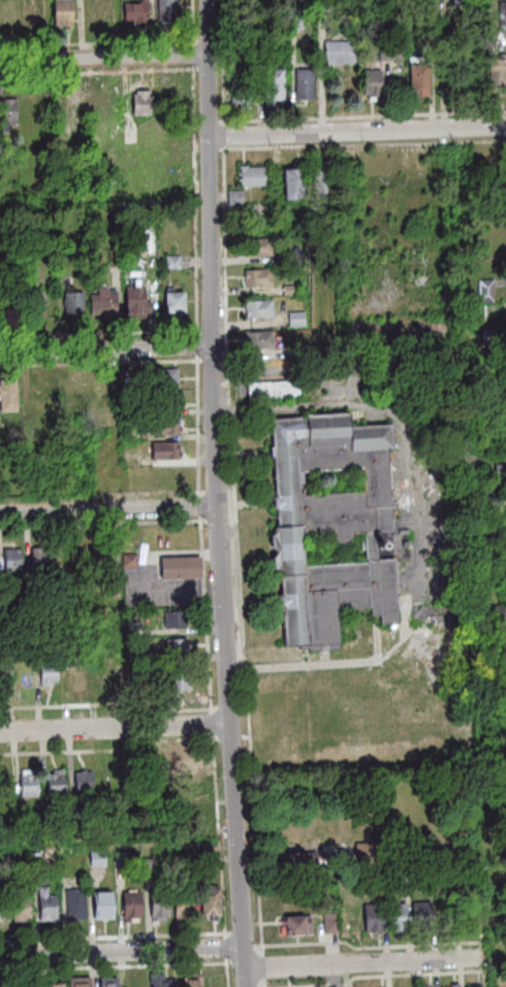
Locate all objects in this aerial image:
building: (459, 2)
building: (321, 4)
building: (165, 9)
building: (133, 11)
building: (59, 12)
building: (2, 13)
building: (102, 13)
building: (501, 15)
building: (29, 17)
building: (292, 21)
road: (191, 23)
building: (424, 36)
road: (202, 41)
road: (98, 44)
building: (336, 51)
building: (383, 51)
road: (192, 56)
road: (102, 58)
road: (222, 63)
road: (441, 65)
road: (220, 70)
road: (206, 71)
building: (495, 72)
road: (97, 75)
building: (415, 78)
building: (367, 82)
building: (301, 83)
building: (270, 85)
building: (237, 91)
building: (139, 103)
building: (69, 107)
building: (6, 113)
road: (361, 117)
road: (206, 123)
road: (195, 124)
road: (356, 132)
road: (223, 137)
road: (362, 146)
road: (213, 151)
building: (248, 176)
building: (316, 178)
building: (437, 179)
building: (287, 184)
building: (480, 184)
building: (234, 199)
building: (307, 202)
building: (292, 206)
building: (252, 247)
building: (113, 257)
building: (170, 261)
building: (252, 278)
building: (454, 285)
building: (284, 290)
building: (480, 291)
building: (133, 301)
building: (171, 301)
building: (100, 303)
building: (71, 304)
building: (32, 306)
building: (252, 309)
building: (472, 311)
building: (505, 316)
building: (290, 319)
road: (104, 334)
building: (483, 337)
building: (254, 340)
road: (105, 349)
building: (292, 350)
road: (104, 364)
building: (160, 377)
building: (275, 390)
building: (6, 395)
building: (41, 396)
building: (162, 399)
building: (101, 405)
building: (127, 406)
building: (161, 425)
building: (161, 450)
building: (495, 472)
road: (214, 493)
building: (486, 504)
road: (107, 511)
road: (99, 523)
road: (198, 526)
building: (332, 526)
building: (488, 540)
building: (38, 557)
building: (97, 558)
building: (10, 559)
building: (127, 560)
building: (177, 567)
road: (237, 567)
building: (4, 593)
building: (488, 612)
building: (172, 618)
building: (131, 628)
building: (36, 635)
building: (174, 647)
building: (133, 658)
building: (104, 672)
building: (45, 673)
building: (136, 673)
building: (73, 674)
building: (176, 681)
road: (105, 703)
road: (113, 727)
road: (106, 750)
building: (176, 763)
building: (147, 769)
building: (108, 778)
building: (81, 782)
building: (4, 783)
building: (54, 783)
building: (26, 785)
building: (184, 818)
building: (206, 855)
building: (361, 855)
building: (94, 858)
building: (32, 859)
building: (293, 863)
building: (145, 864)
building: (423, 881)
building: (397, 882)
building: (207, 901)
building: (156, 903)
building: (44, 904)
building: (73, 904)
building: (98, 904)
building: (129, 904)
building: (180, 905)
building: (18, 908)
building: (416, 917)
building: (392, 918)
building: (367, 919)
building: (325, 924)
building: (290, 926)
road: (120, 950)
road: (360, 962)
building: (189, 980)
building: (158, 981)
building: (76, 982)
building: (105, 982)
building: (50, 983)
building: (451, 985)
building: (475, 985)
building: (427, 986)

